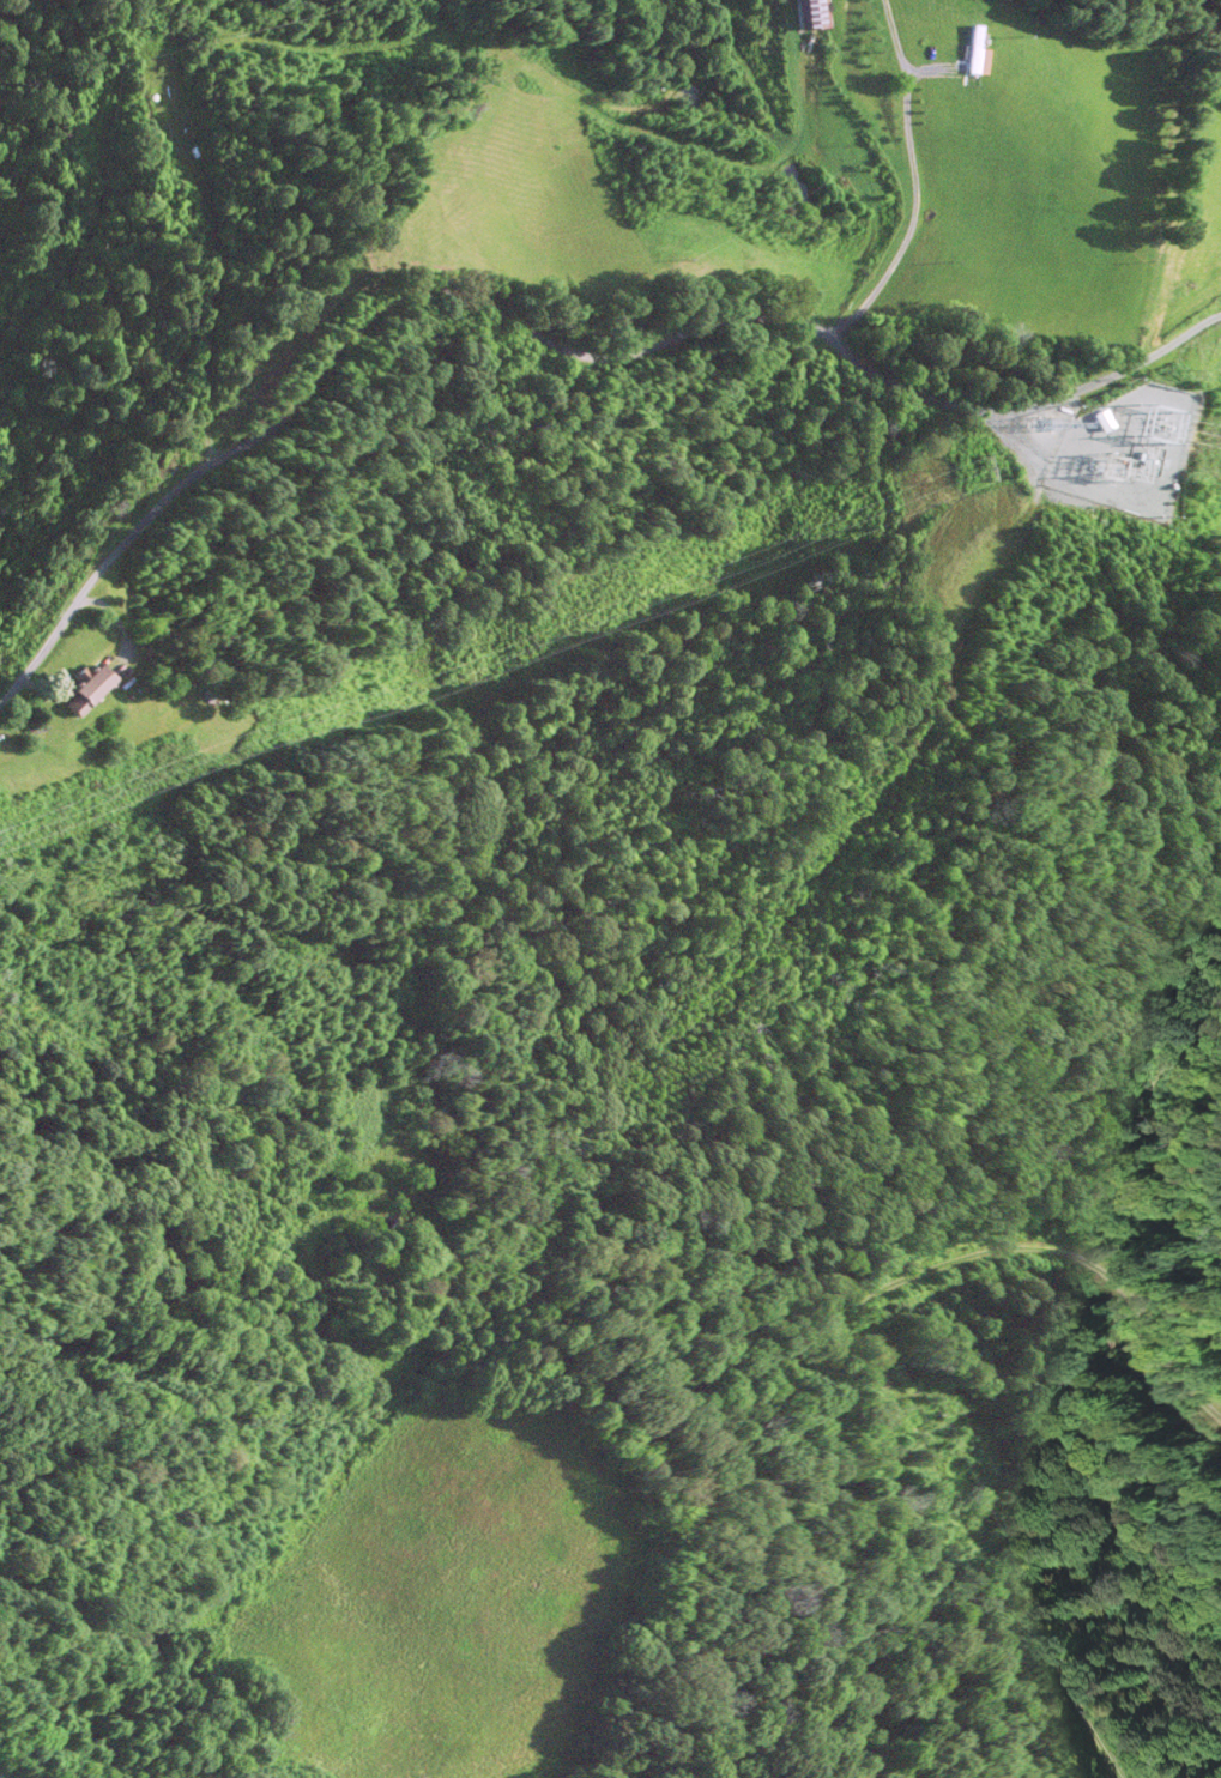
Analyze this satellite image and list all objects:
building: (812, 14)
building: (974, 48)
road: (914, 181)
road: (544, 341)
power substation: (1125, 441)
building: (83, 689)
road: (859, 1354)
road: (83, 1765)
building: (0, 1777)

